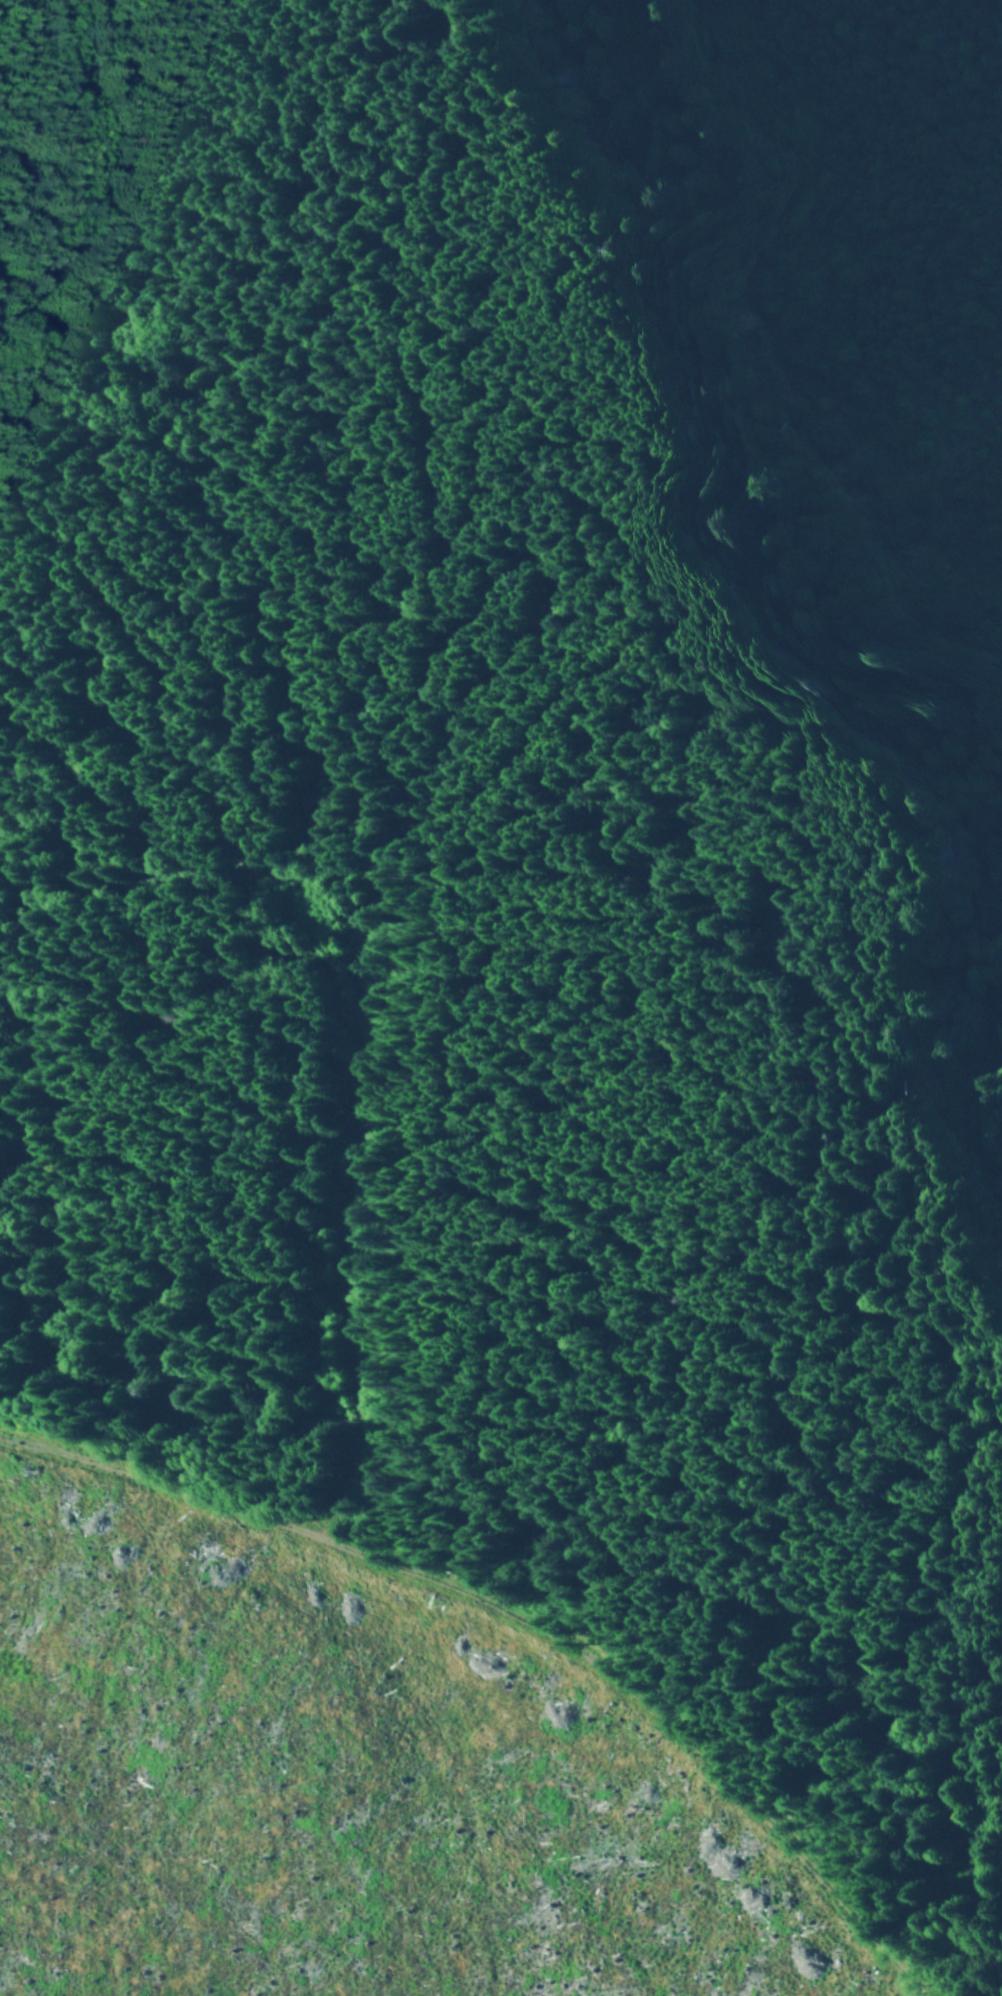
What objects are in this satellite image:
road: (336, 1405)

